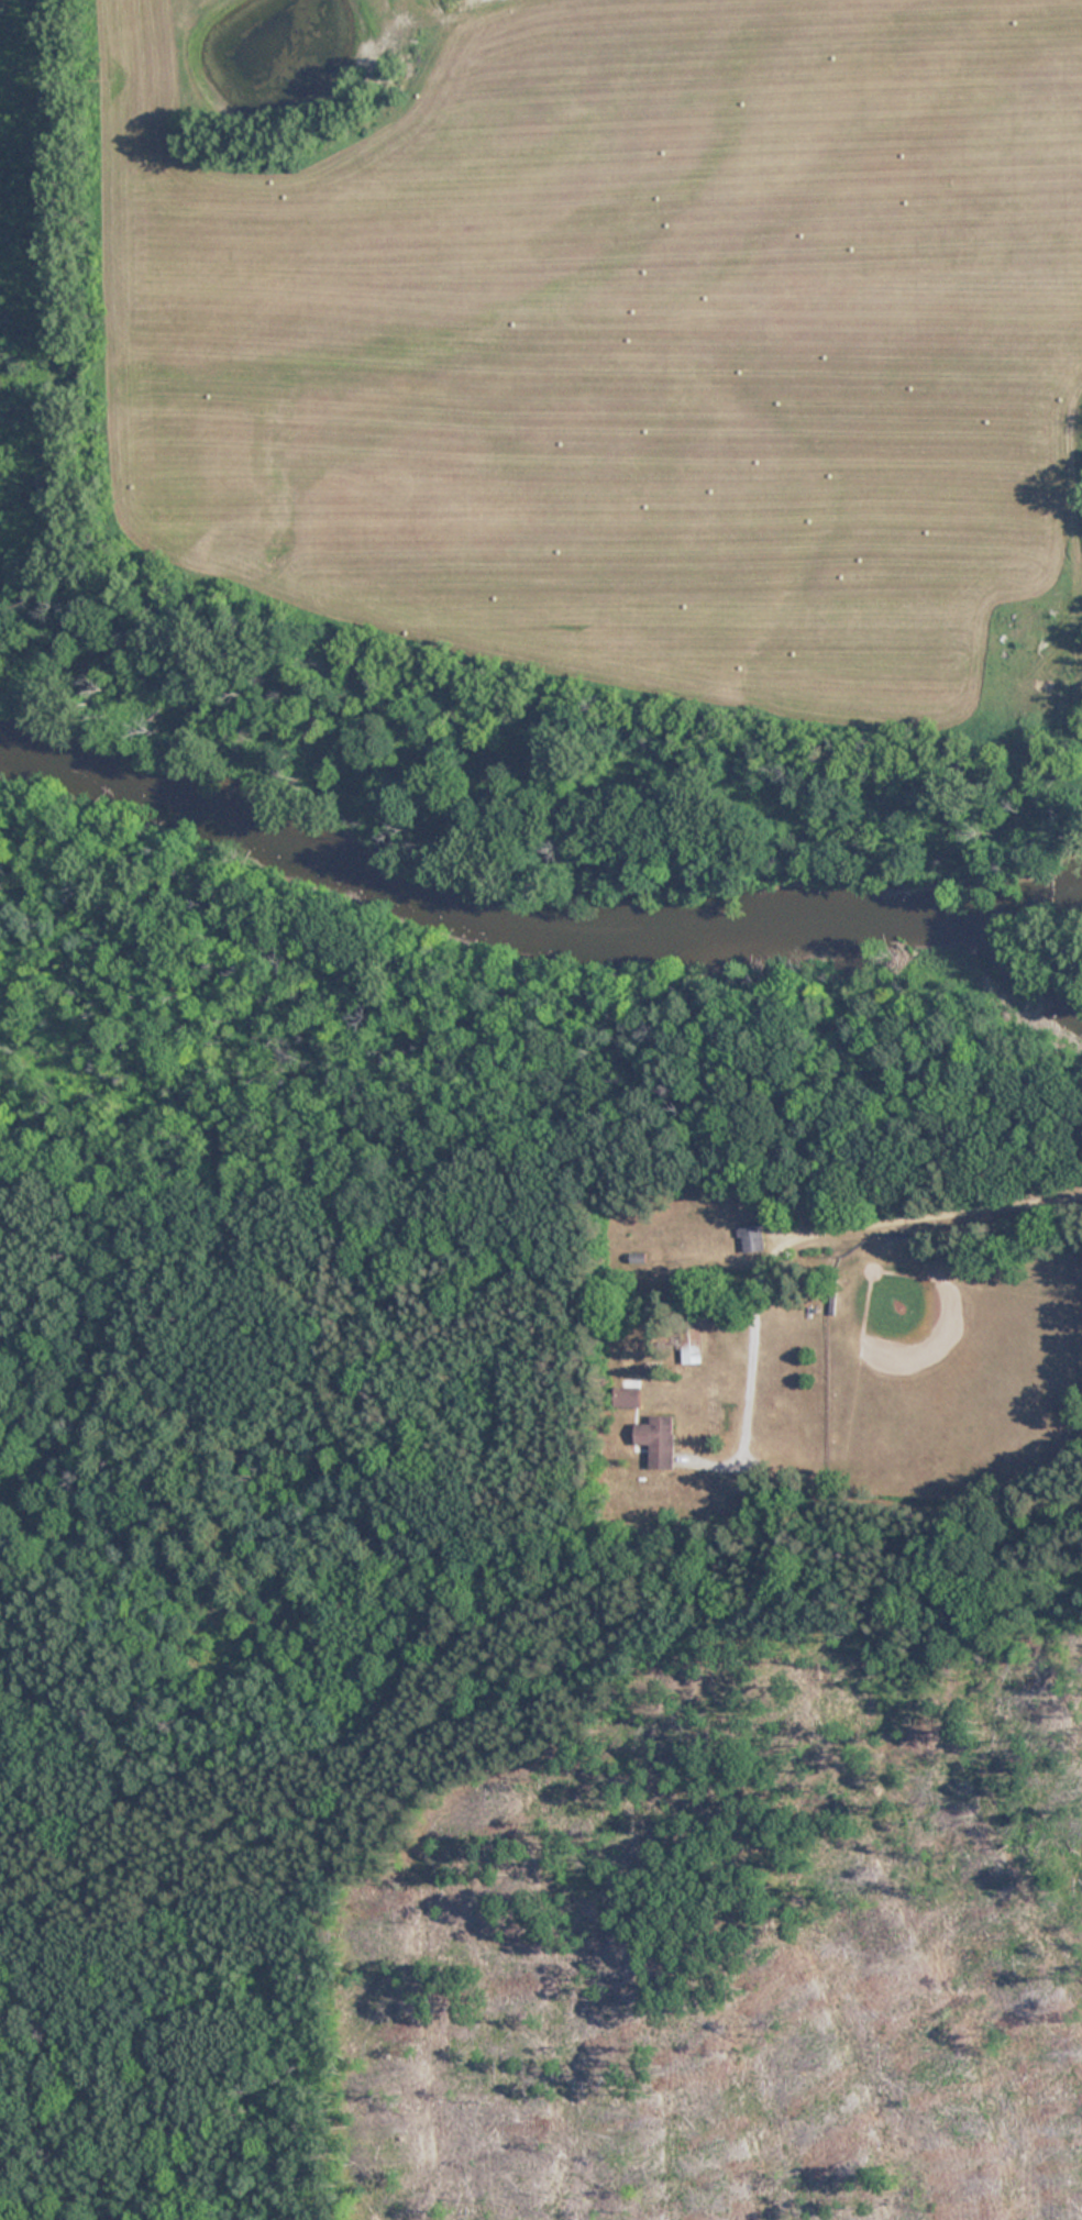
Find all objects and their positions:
river: (526, 905)
road: (935, 1214)
building: (747, 1221)
building: (895, 1235)
building: (689, 1338)
building: (630, 1396)
building: (654, 1439)
road: (537, 1571)
park: (455, 1633)

